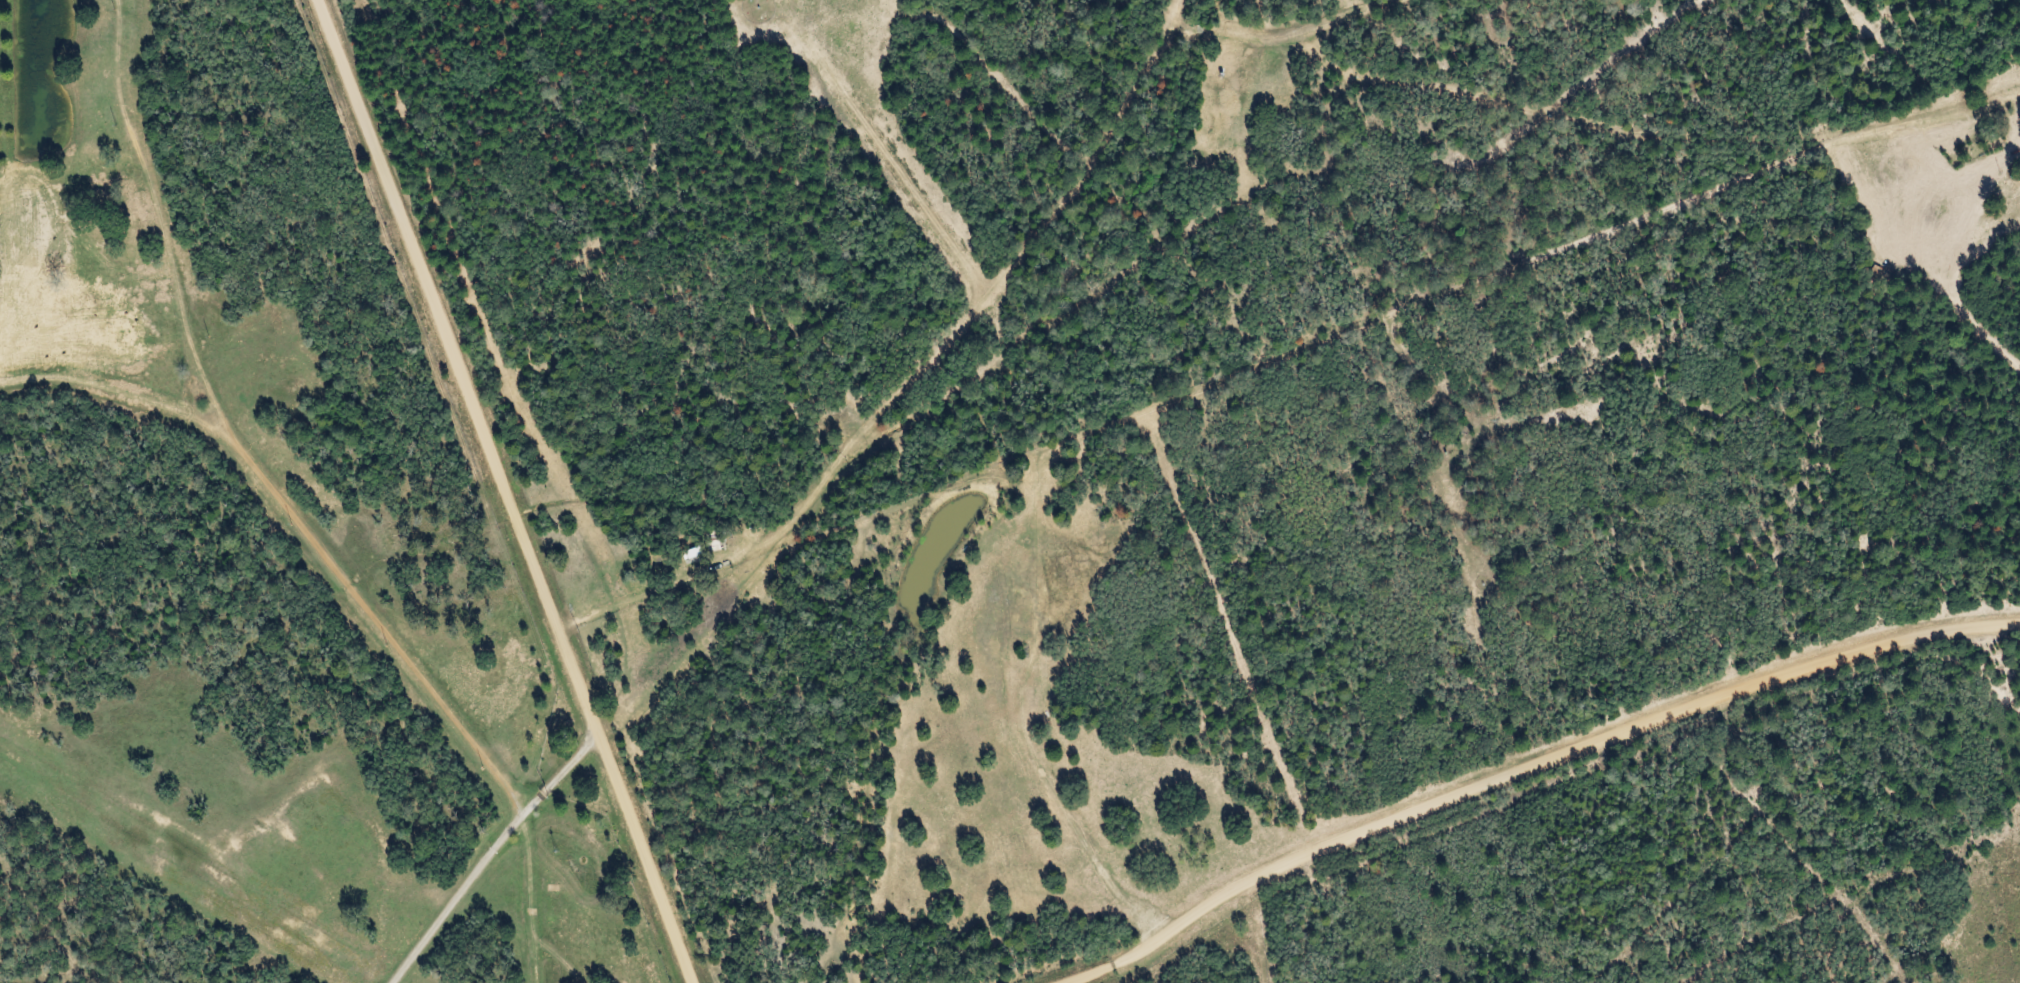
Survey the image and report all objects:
road: (1183, 16)
road: (890, 152)
road: (71, 161)
road: (937, 307)
road: (491, 324)
road: (460, 352)
road: (54, 373)
road: (290, 492)
building: (717, 540)
road: (1069, 752)
road: (1526, 767)
road: (489, 842)
road: (646, 843)
road: (519, 944)

